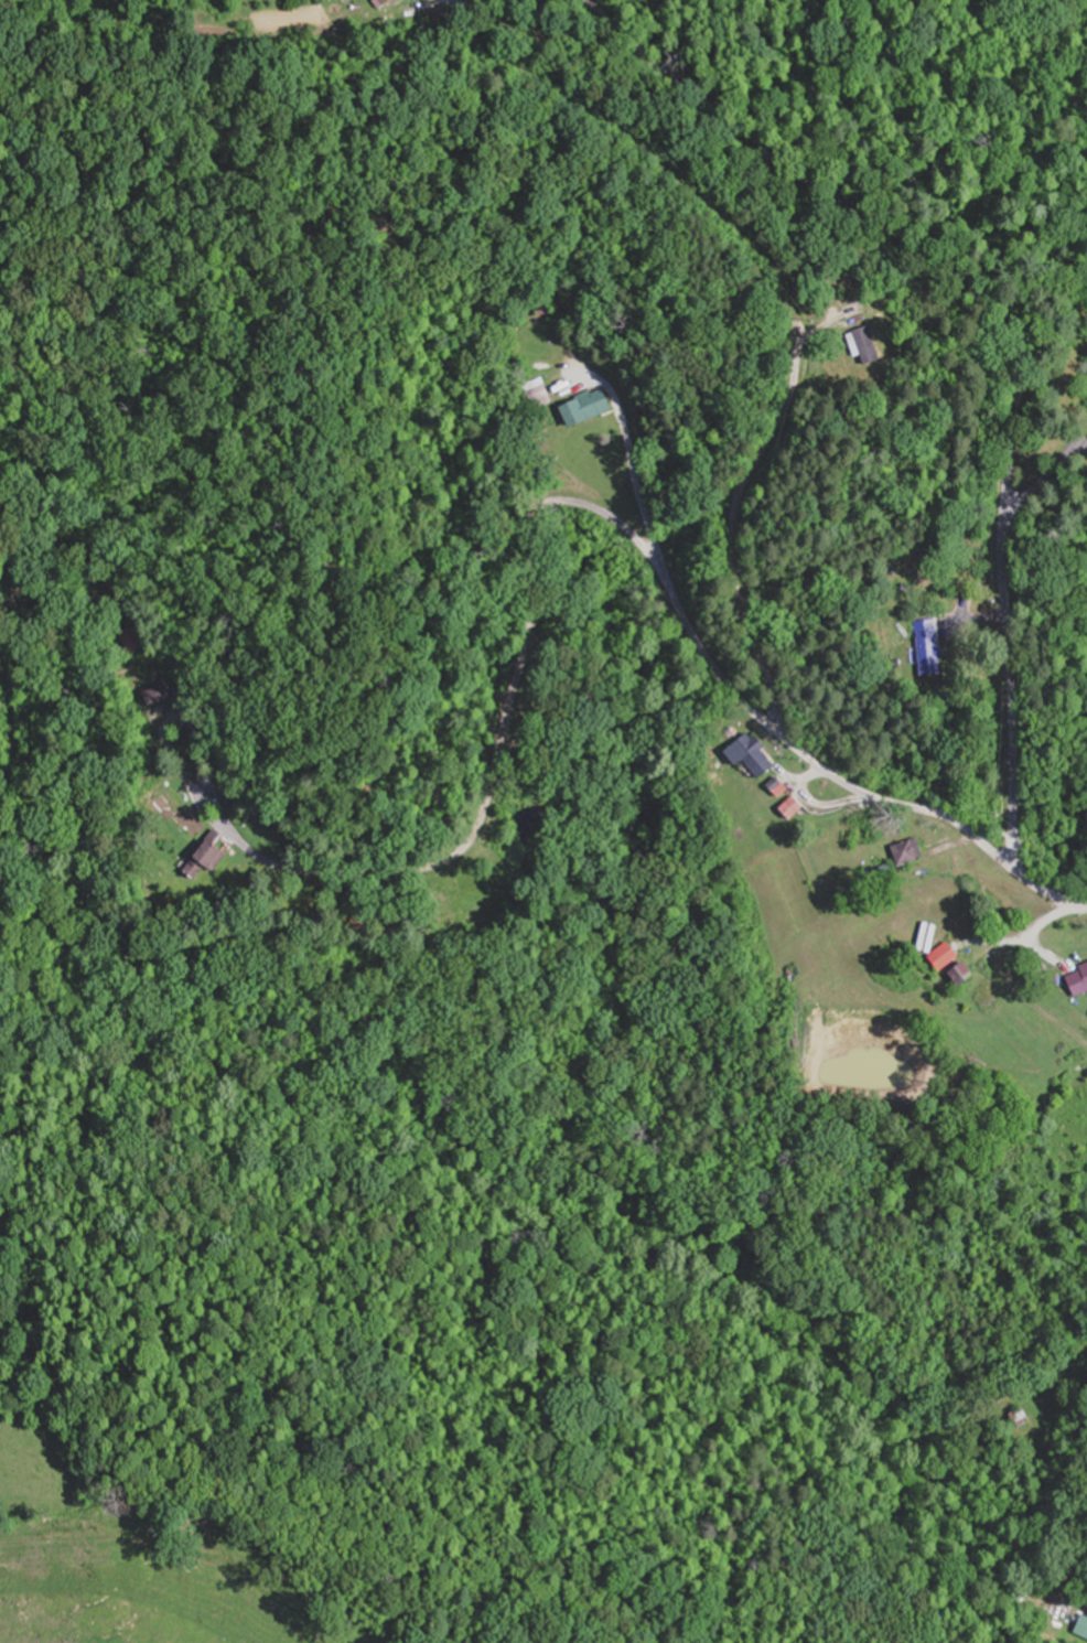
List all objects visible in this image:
building: (389, 2)
road: (539, 329)
road: (1013, 329)
building: (874, 344)
building: (591, 407)
road: (624, 529)
building: (933, 646)
road: (851, 654)
building: (162, 692)
building: (754, 751)
building: (796, 806)
building: (912, 851)
building: (212, 853)
building: (949, 956)
building: (968, 975)
building: (1080, 980)
building: (1025, 1415)
road: (917, 1426)
building: (1079, 1629)

